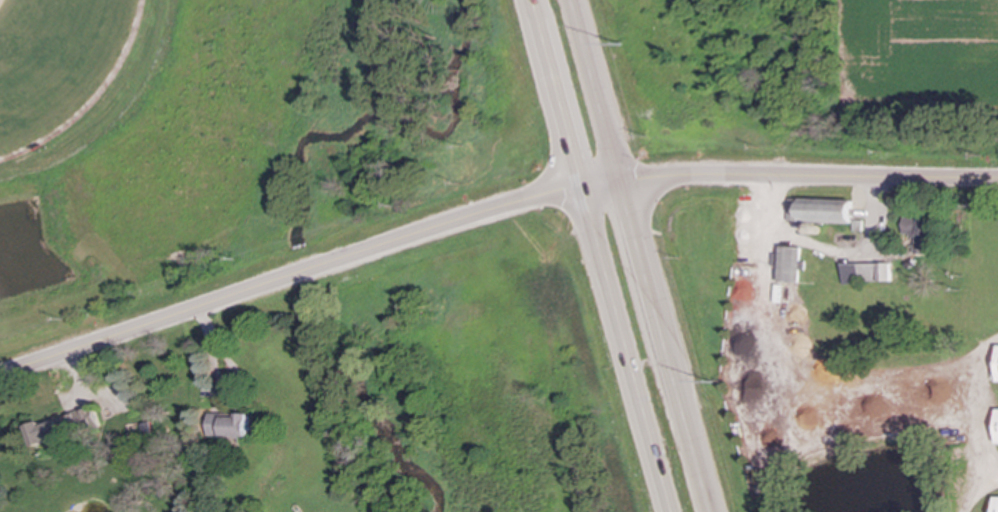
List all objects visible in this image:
power tower: (620, 46)
park: (239, 143)
building: (820, 210)
road: (487, 212)
building: (919, 233)
road: (640, 255)
road: (602, 256)
building: (789, 263)
building: (867, 273)
building: (995, 371)
power tower: (717, 382)
road: (987, 408)
building: (85, 419)
building: (229, 425)
building: (45, 431)
building: (997, 432)
building: (60, 445)
road: (979, 492)
building: (996, 504)

